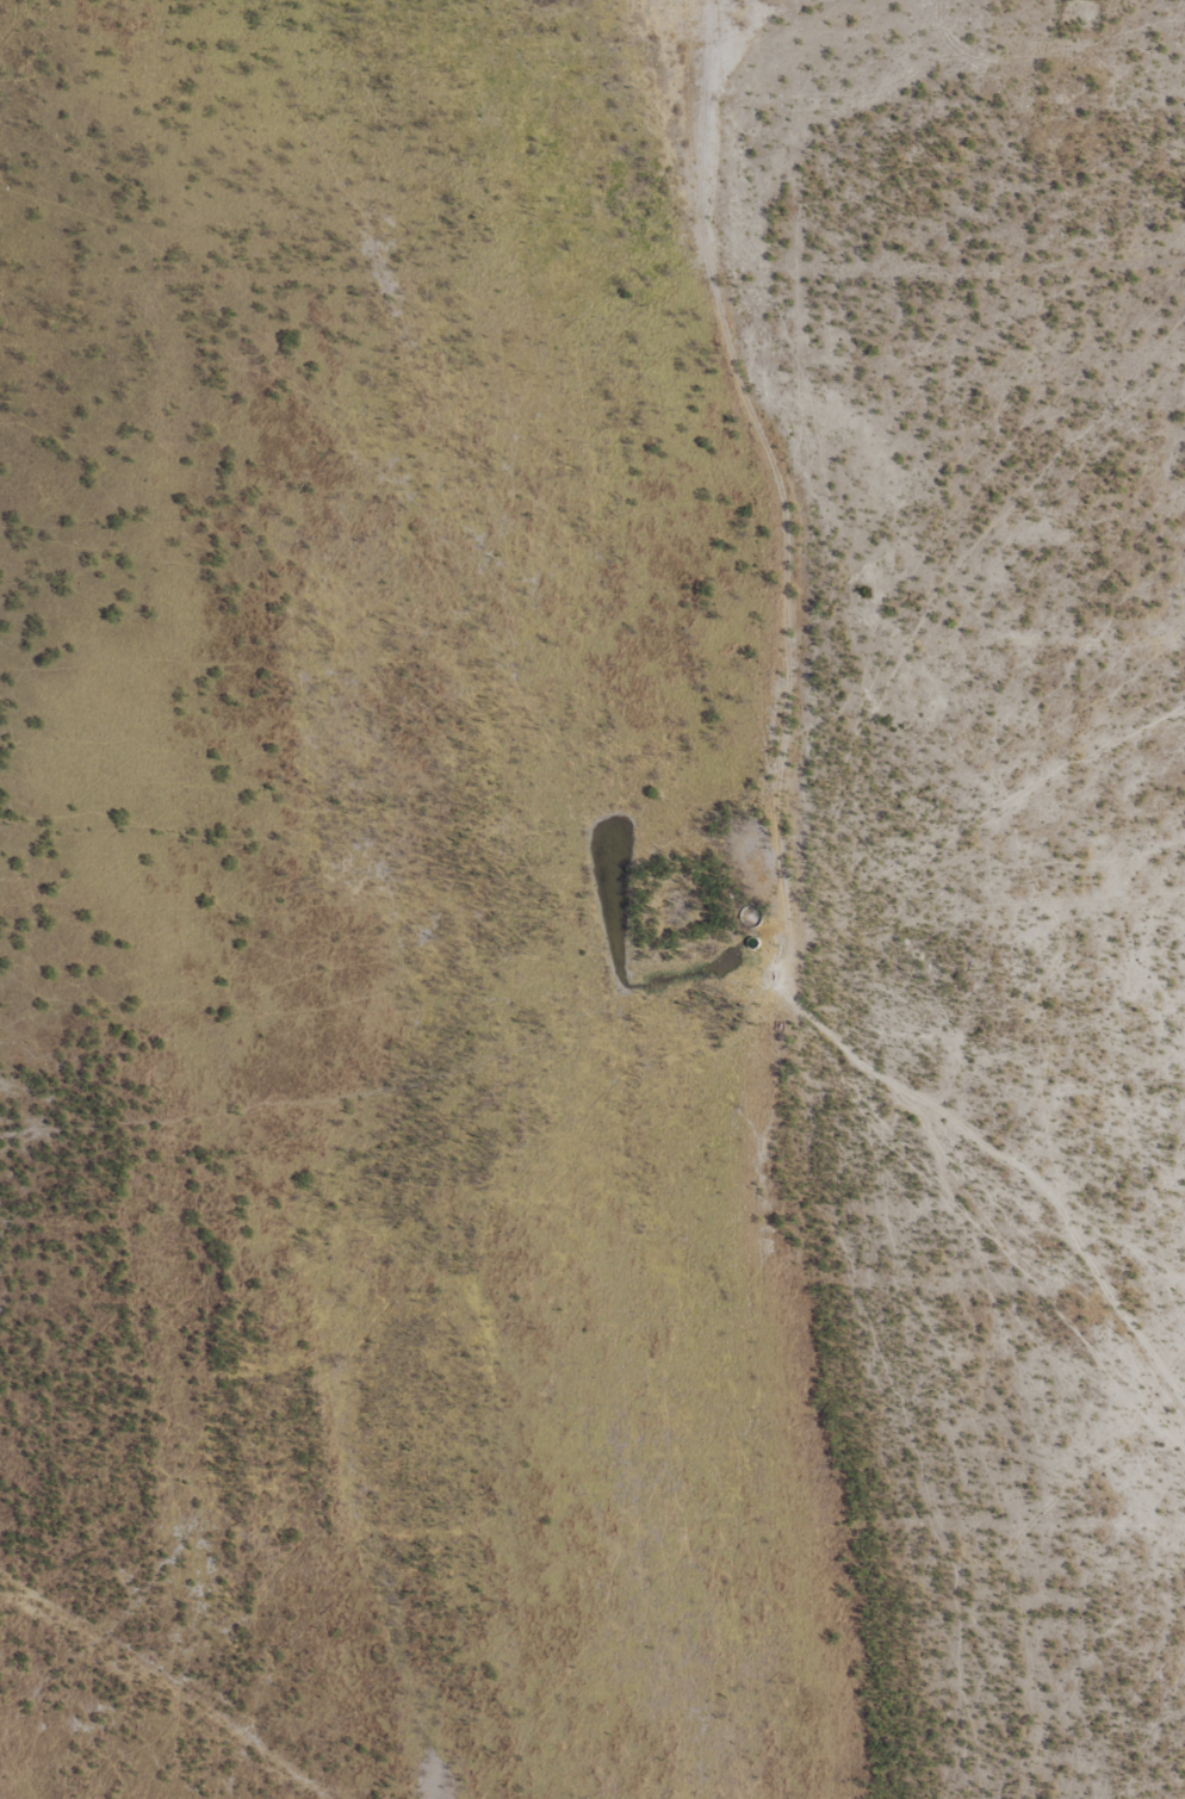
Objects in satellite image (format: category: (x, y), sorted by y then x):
road: (1001, 1221)

